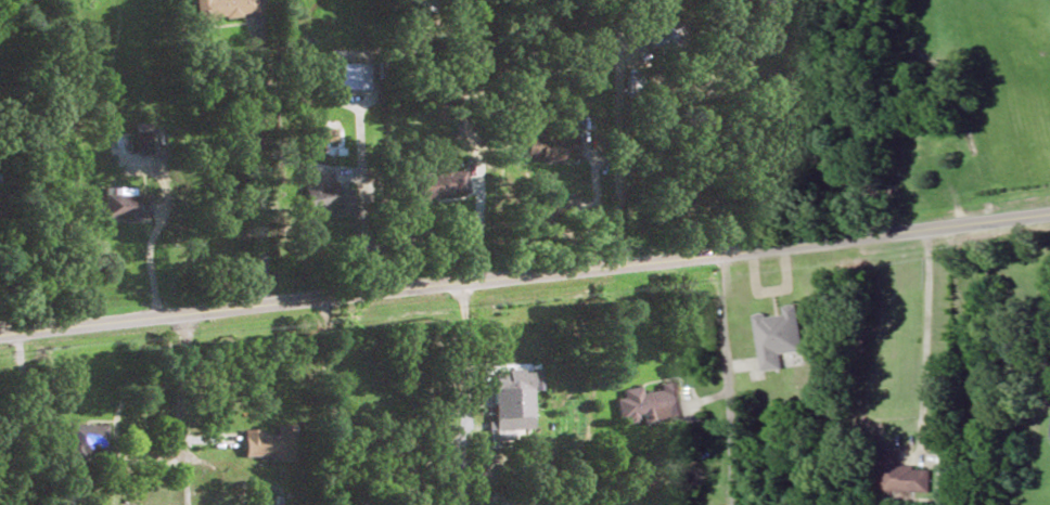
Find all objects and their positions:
building: (227, 9)
building: (585, 73)
building: (336, 74)
building: (530, 144)
building: (420, 186)
building: (303, 195)
road: (525, 275)
building: (777, 338)
road: (726, 379)
building: (503, 392)
building: (646, 403)
building: (1049, 425)
building: (90, 437)
building: (260, 442)
building: (900, 475)

